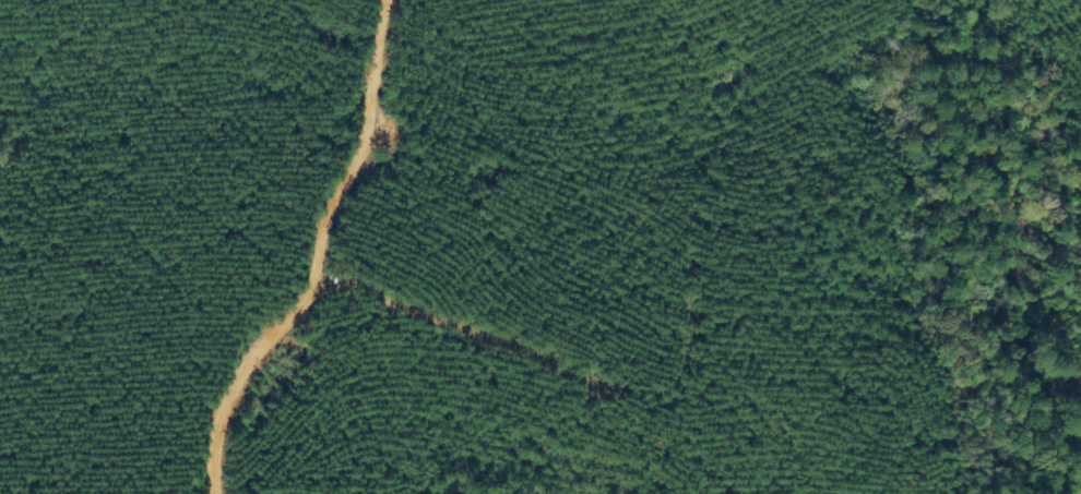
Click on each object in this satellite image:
road: (234, 256)

